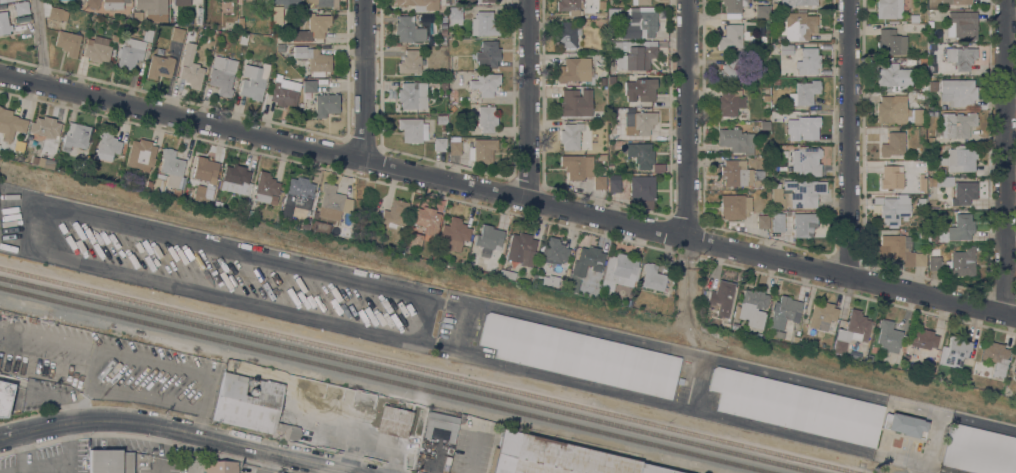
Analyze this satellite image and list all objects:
building: (5, 1)
building: (477, 1)
building: (184, 2)
building: (451, 2)
building: (642, 2)
building: (799, 2)
building: (961, 2)
building: (91, 3)
building: (285, 3)
building: (324, 3)
building: (419, 3)
building: (114, 4)
building: (932, 6)
building: (569, 7)
building: (18, 8)
building: (733, 8)
building: (889, 8)
building: (153, 9)
building: (761, 10)
building: (57, 13)
building: (277, 15)
building: (455, 15)
building: (603, 15)
building: (138, 16)
building: (612, 17)
building: (240, 22)
building: (4, 23)
building: (484, 24)
building: (930, 24)
building: (961, 25)
building: (638, 26)
building: (799, 26)
building: (314, 28)
building: (408, 30)
building: (443, 33)
building: (147, 34)
building: (177, 34)
building: (568, 34)
building: (114, 37)
building: (729, 37)
building: (252, 38)
building: (243, 39)
building: (68, 42)
building: (890, 42)
road: (41, 43)
building: (279, 47)
building: (97, 49)
building: (785, 49)
building: (130, 53)
building: (488, 53)
building: (631, 56)
building: (960, 57)
building: (183, 59)
building: (313, 60)
building: (808, 60)
building: (410, 62)
building: (159, 67)
building: (574, 70)
building: (451, 73)
building: (729, 73)
building: (222, 74)
building: (192, 76)
building: (892, 77)
building: (254, 81)
road: (368, 81)
building: (485, 84)
building: (923, 85)
building: (309, 86)
building: (443, 86)
building: (644, 89)
building: (285, 93)
building: (804, 93)
building: (958, 93)
building: (412, 95)
building: (921, 95)
building: (765, 98)
road: (531, 101)
building: (729, 102)
building: (575, 103)
building: (326, 104)
building: (0, 107)
building: (452, 109)
building: (892, 110)
building: (917, 115)
building: (441, 119)
building: (487, 119)
building: (641, 121)
building: (957, 124)
building: (10, 125)
building: (764, 125)
building: (46, 127)
building: (806, 127)
building: (413, 130)
building: (571, 135)
building: (77, 136)
building: (611, 137)
building: (779, 139)
road: (850, 139)
building: (735, 140)
building: (440, 144)
building: (892, 144)
building: (107, 146)
building: (455, 148)
building: (481, 150)
building: (141, 154)
building: (639, 154)
road: (687, 155)
building: (602, 157)
road: (1008, 157)
building: (959, 159)
building: (806, 161)
building: (171, 163)
building: (48, 164)
building: (909, 164)
building: (935, 164)
building: (577, 166)
building: (658, 167)
building: (611, 168)
building: (206, 171)
building: (735, 173)
building: (891, 177)
building: (235, 179)
building: (758, 179)
building: (930, 180)
building: (598, 182)
building: (921, 182)
building: (944, 182)
building: (149, 183)
building: (158, 183)
building: (614, 183)
building: (266, 188)
building: (642, 191)
building: (299, 192)
building: (809, 192)
building: (963, 193)
building: (202, 197)
road: (507, 197)
building: (777, 197)
building: (921, 202)
building: (333, 203)
building: (945, 205)
building: (734, 206)
building: (893, 209)
building: (250, 213)
building: (394, 213)
building: (425, 219)
building: (762, 221)
building: (777, 222)
building: (804, 224)
road: (32, 225)
building: (304, 226)
building: (319, 226)
building: (962, 227)
building: (902, 231)
building: (922, 233)
building: (454, 234)
building: (932, 234)
building: (488, 240)
building: (521, 249)
building: (899, 250)
building: (555, 251)
building: (934, 258)
building: (961, 262)
building: (584, 266)
building: (621, 266)
building: (507, 274)
building: (652, 278)
building: (546, 279)
building: (629, 283)
building: (721, 297)
building: (751, 308)
building: (784, 313)
building: (821, 313)
building: (726, 326)
building: (734, 326)
building: (851, 331)
building: (779, 333)
road: (48, 335)
building: (888, 336)
building: (923, 339)
building: (955, 351)
building: (581, 355)
building: (870, 358)
building: (905, 358)
building: (996, 358)
road: (714, 359)
road: (92, 366)
road: (45, 368)
railway: (430, 369)
building: (1015, 371)
railway: (410, 375)
railway: (388, 379)
road: (699, 383)
road: (86, 388)
road: (50, 394)
road: (208, 394)
building: (5, 397)
road: (81, 397)
building: (252, 403)
building: (796, 406)
road: (73, 411)
road: (706, 413)
building: (379, 418)
road: (203, 421)
building: (441, 424)
building: (905, 424)
road: (192, 432)
road: (9, 436)
road: (931, 439)
road: (163, 449)
road: (22, 450)
building: (979, 450)
building: (558, 458)
building: (110, 461)
road: (55, 465)
building: (221, 468)
road: (321, 468)
road: (921, 468)

